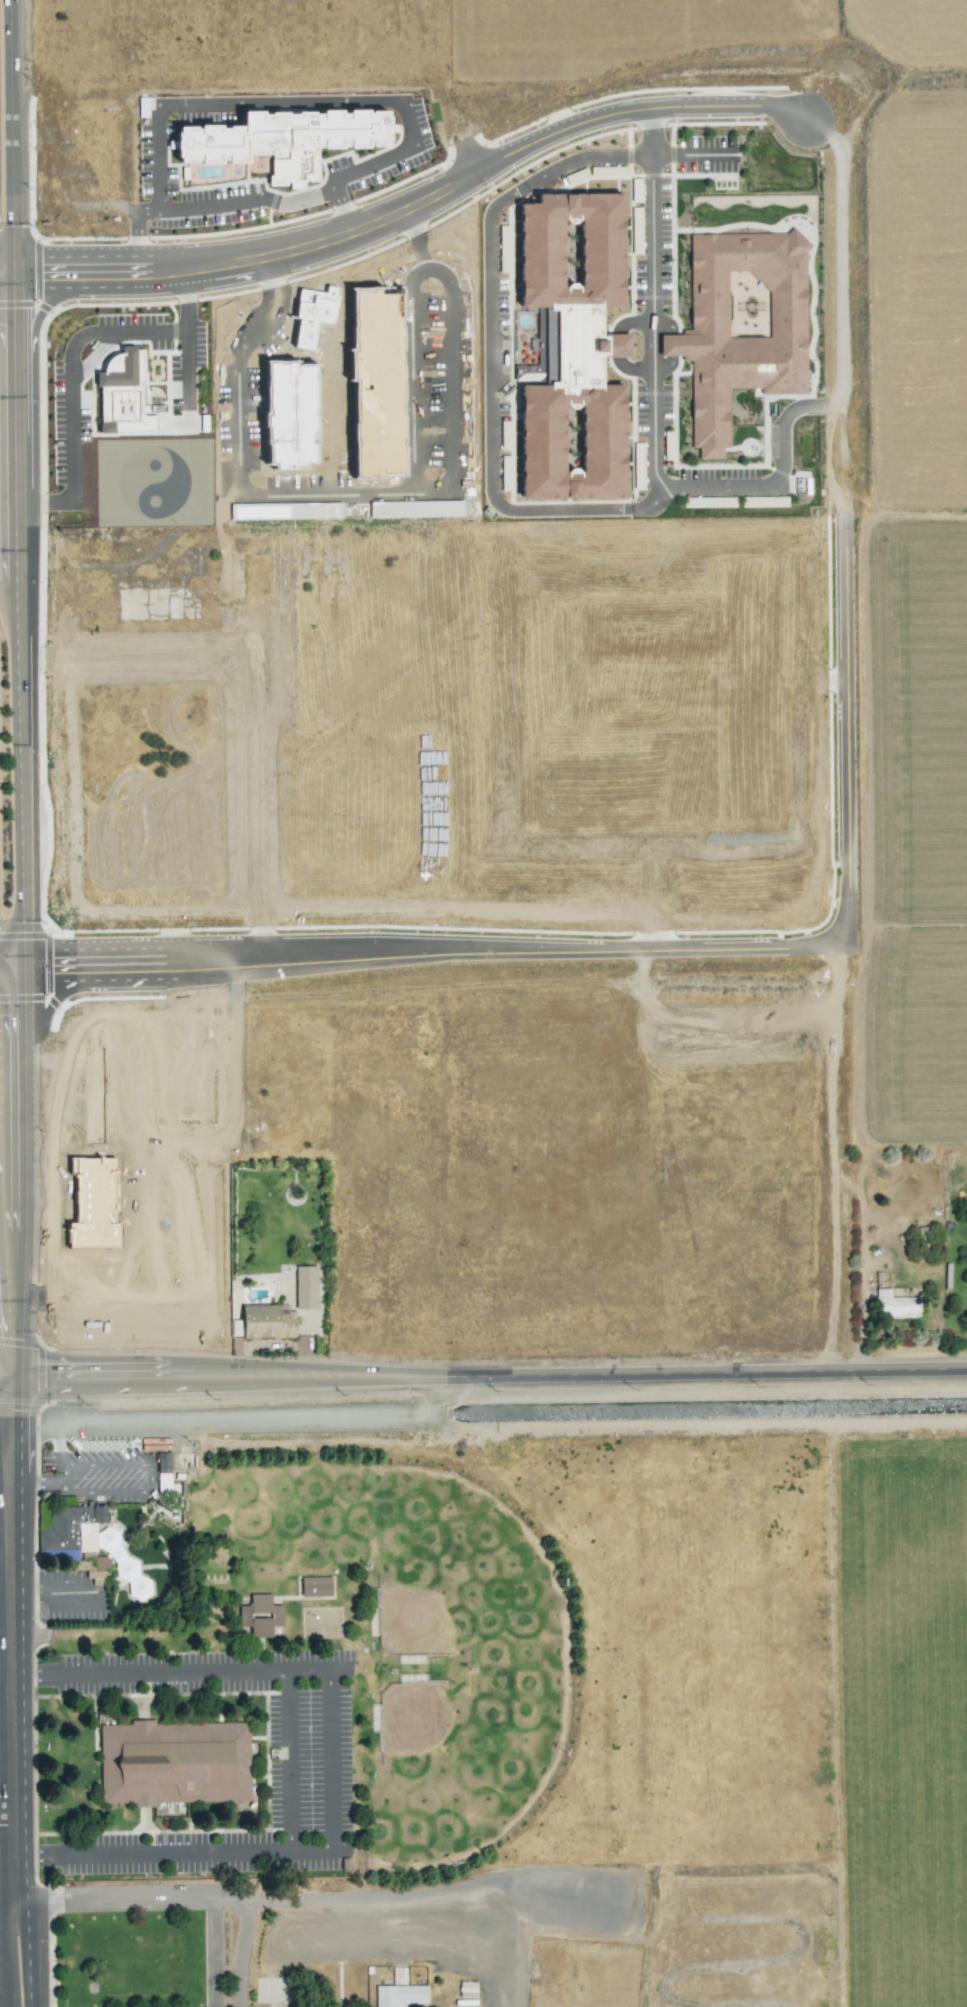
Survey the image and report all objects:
road: (231, 103)
building: (283, 141)
road: (693, 155)
road: (409, 207)
road: (141, 236)
building: (504, 248)
building: (311, 315)
road: (666, 323)
building: (741, 325)
road: (672, 345)
building: (573, 347)
road: (68, 360)
road: (666, 367)
building: (535, 372)
crop: (547, 386)
building: (122, 394)
road: (653, 402)
building: (288, 415)
building: (505, 435)
building: (505, 473)
road: (367, 493)
building: (415, 509)
road: (15, 620)
road: (618, 946)
road: (4, 953)
road: (4, 964)
building: (93, 1204)
building: (966, 1281)
building: (305, 1287)
building: (895, 1305)
road: (860, 1309)
building: (267, 1322)
road: (485, 1363)
road: (2, 1365)
traffic signals: (5, 1366)
building: (163, 1472)
road: (7, 1485)
road: (136, 1493)
building: (86, 1543)
park: (450, 1584)
building: (315, 1586)
road: (54, 1593)
building: (260, 1615)
crop: (898, 1719)
park: (453, 1759)
road: (329, 1761)
building: (173, 1763)
road: (3, 1817)
road: (3, 1883)
road: (536, 1886)
road: (411, 1893)
road: (180, 1895)
road: (3, 1911)
road: (209, 1951)
building: (467, 1989)
building: (400, 1995)

